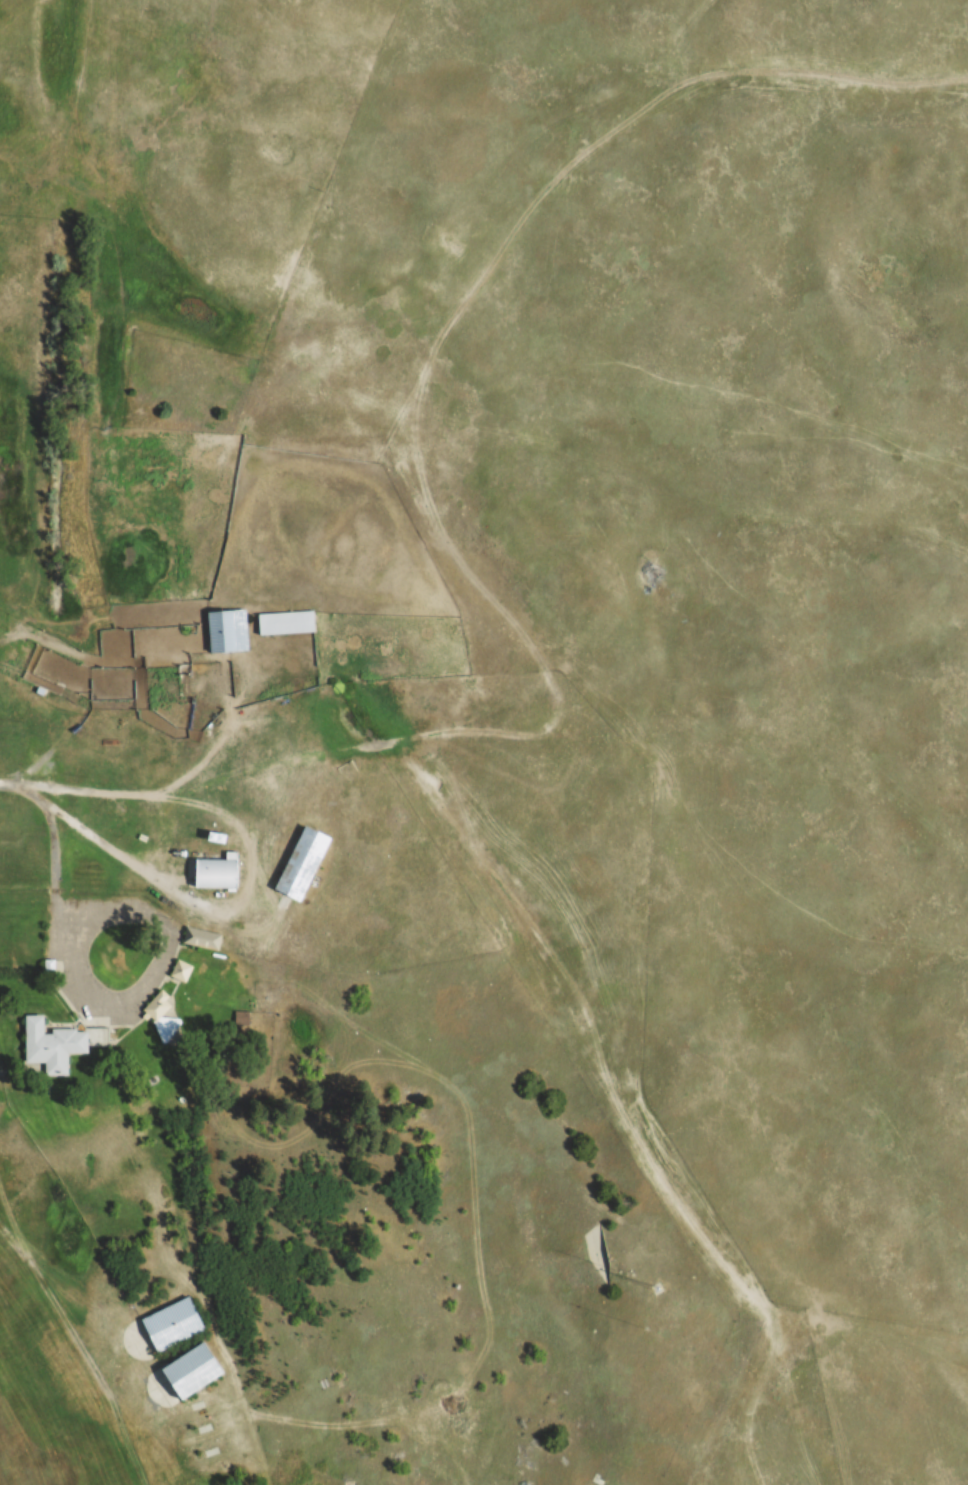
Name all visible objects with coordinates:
building: (289, 622)
building: (228, 631)
road: (179, 804)
building: (305, 865)
building: (219, 872)
building: (205, 939)
building: (184, 971)
building: (245, 1019)
building: (171, 1028)
building: (50, 1046)
road: (60, 1271)
building: (176, 1324)
building: (194, 1371)

